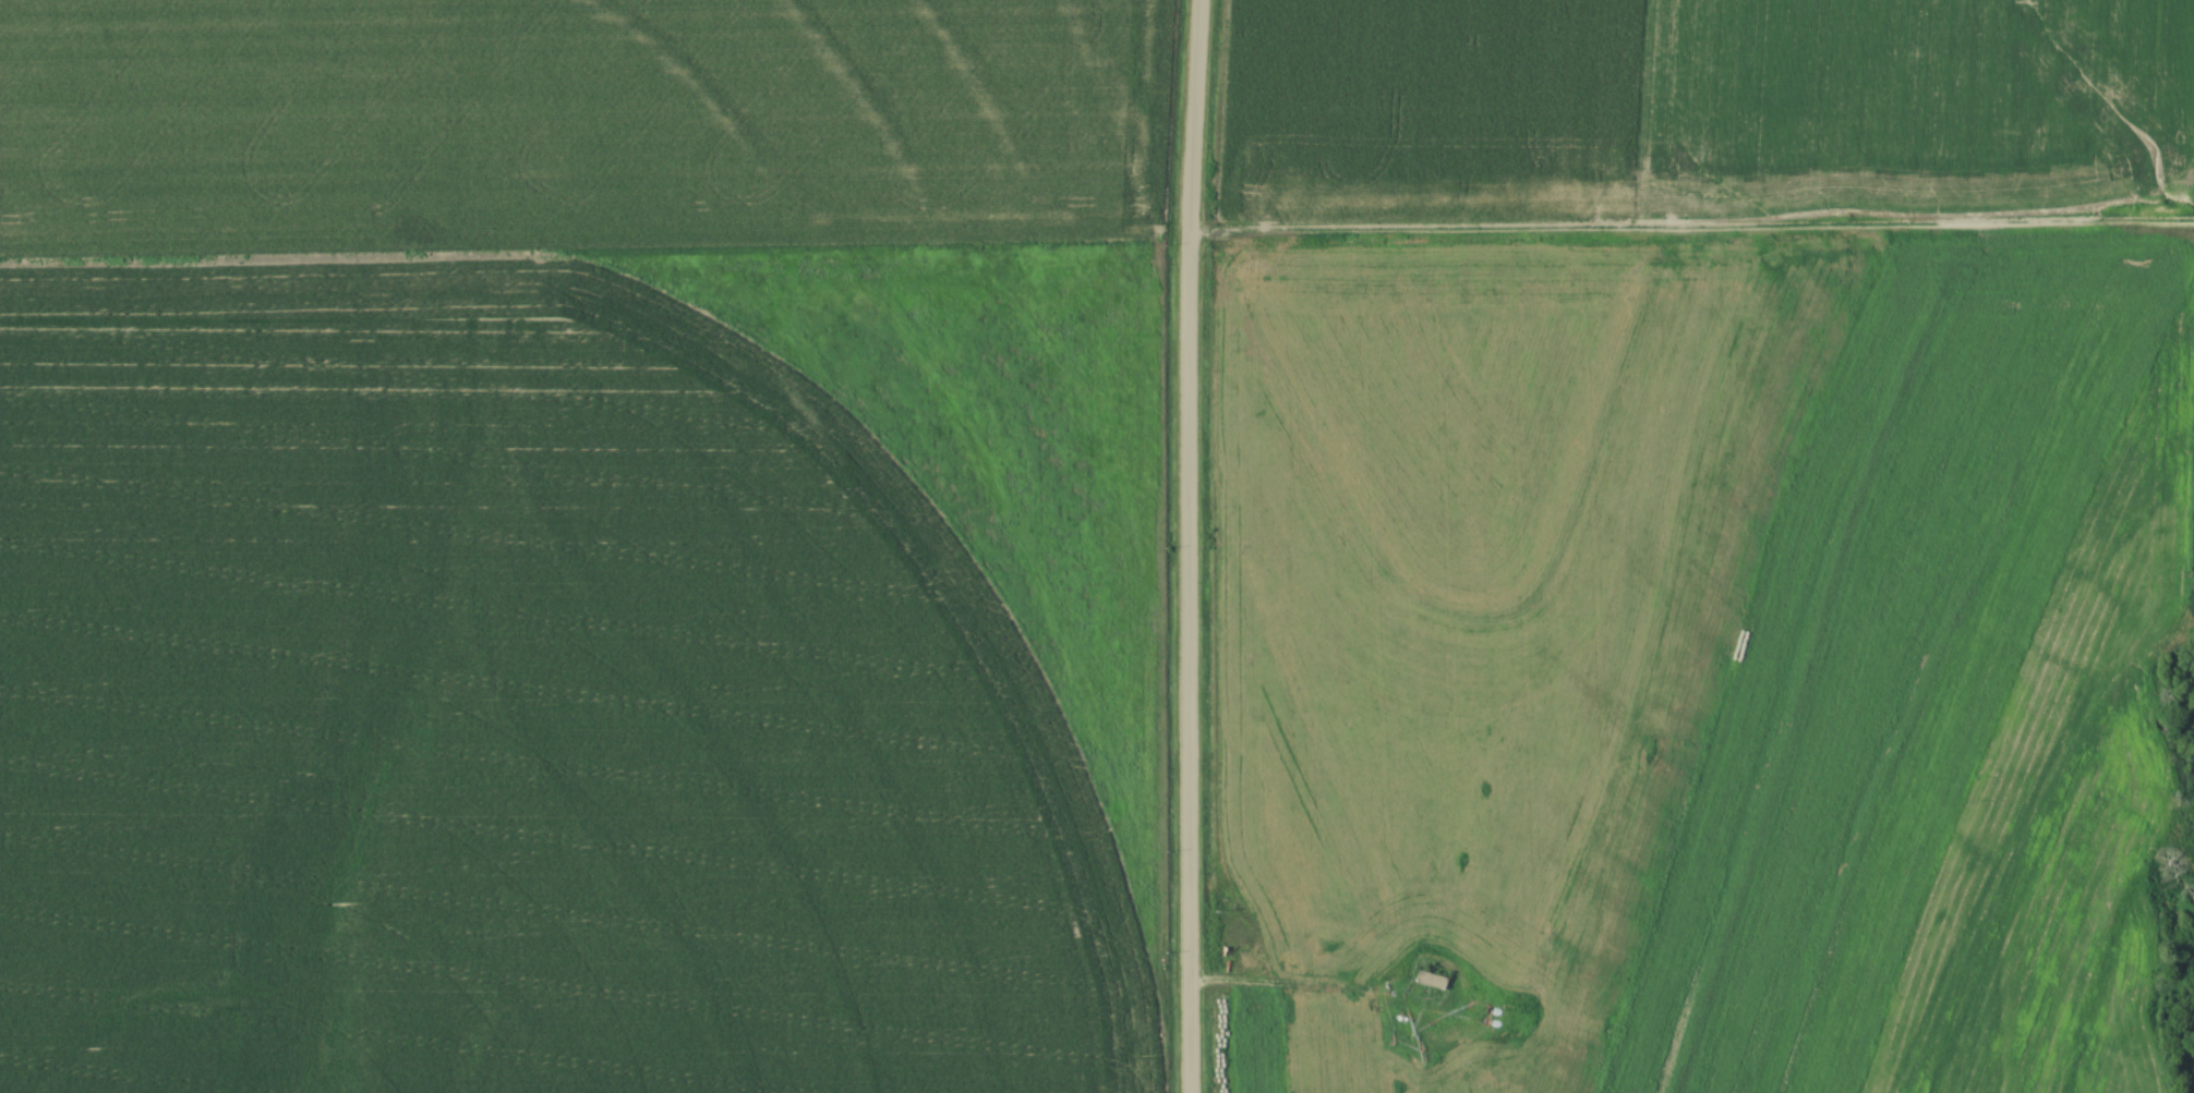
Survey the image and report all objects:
road: (1182, 546)
road: (1281, 983)

